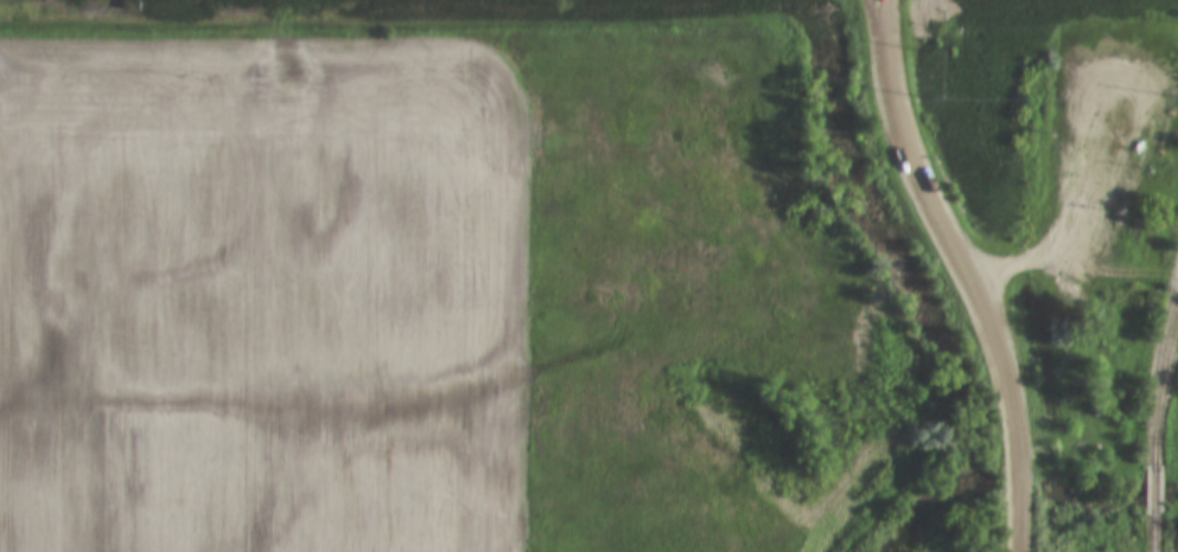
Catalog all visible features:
storage tank: (1166, 134)
road: (1100, 213)
road: (967, 271)
railway: (1155, 368)
railway: (1161, 384)
railway: (1152, 488)
railway: (1151, 532)

